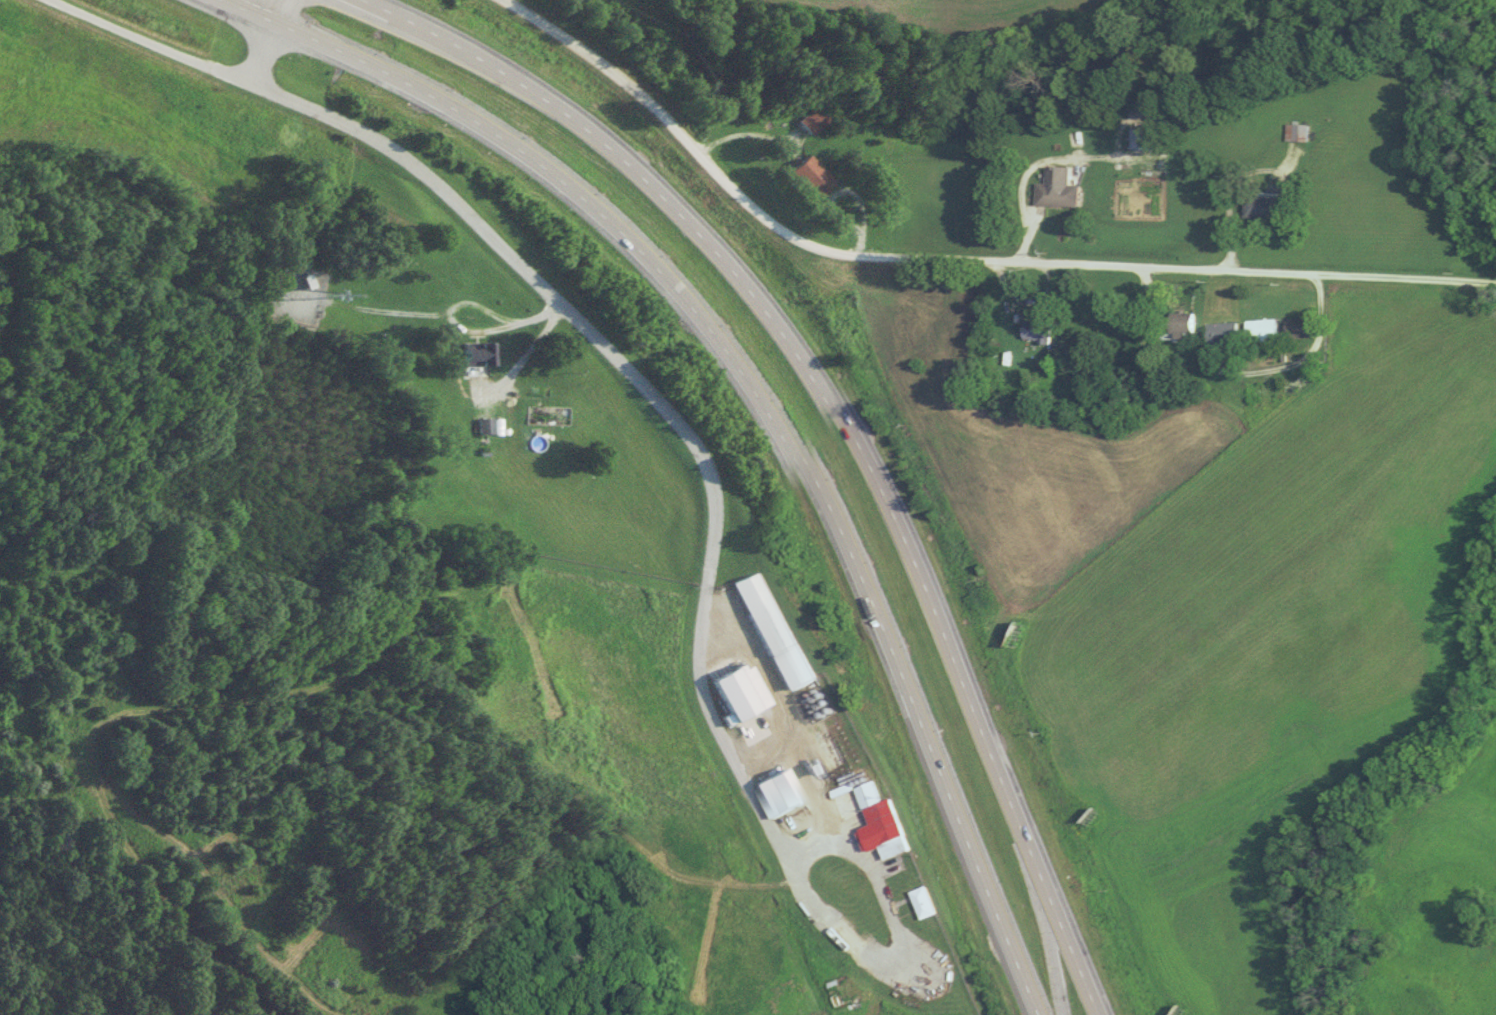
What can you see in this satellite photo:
road: (271, 42)
building: (806, 120)
building: (1291, 134)
building: (1139, 140)
road: (1032, 171)
building: (806, 177)
building: (1053, 190)
road: (1235, 197)
building: (1261, 208)
road: (953, 263)
road: (568, 311)
building: (1177, 326)
building: (1295, 329)
building: (1033, 333)
building: (1256, 333)
building: (1217, 335)
building: (472, 355)
road: (529, 357)
road: (1304, 360)
road: (758, 393)
building: (543, 416)
road: (841, 420)
building: (484, 427)
building: (770, 633)
building: (738, 693)
building: (775, 794)
building: (876, 825)
building: (919, 905)
road: (897, 945)

